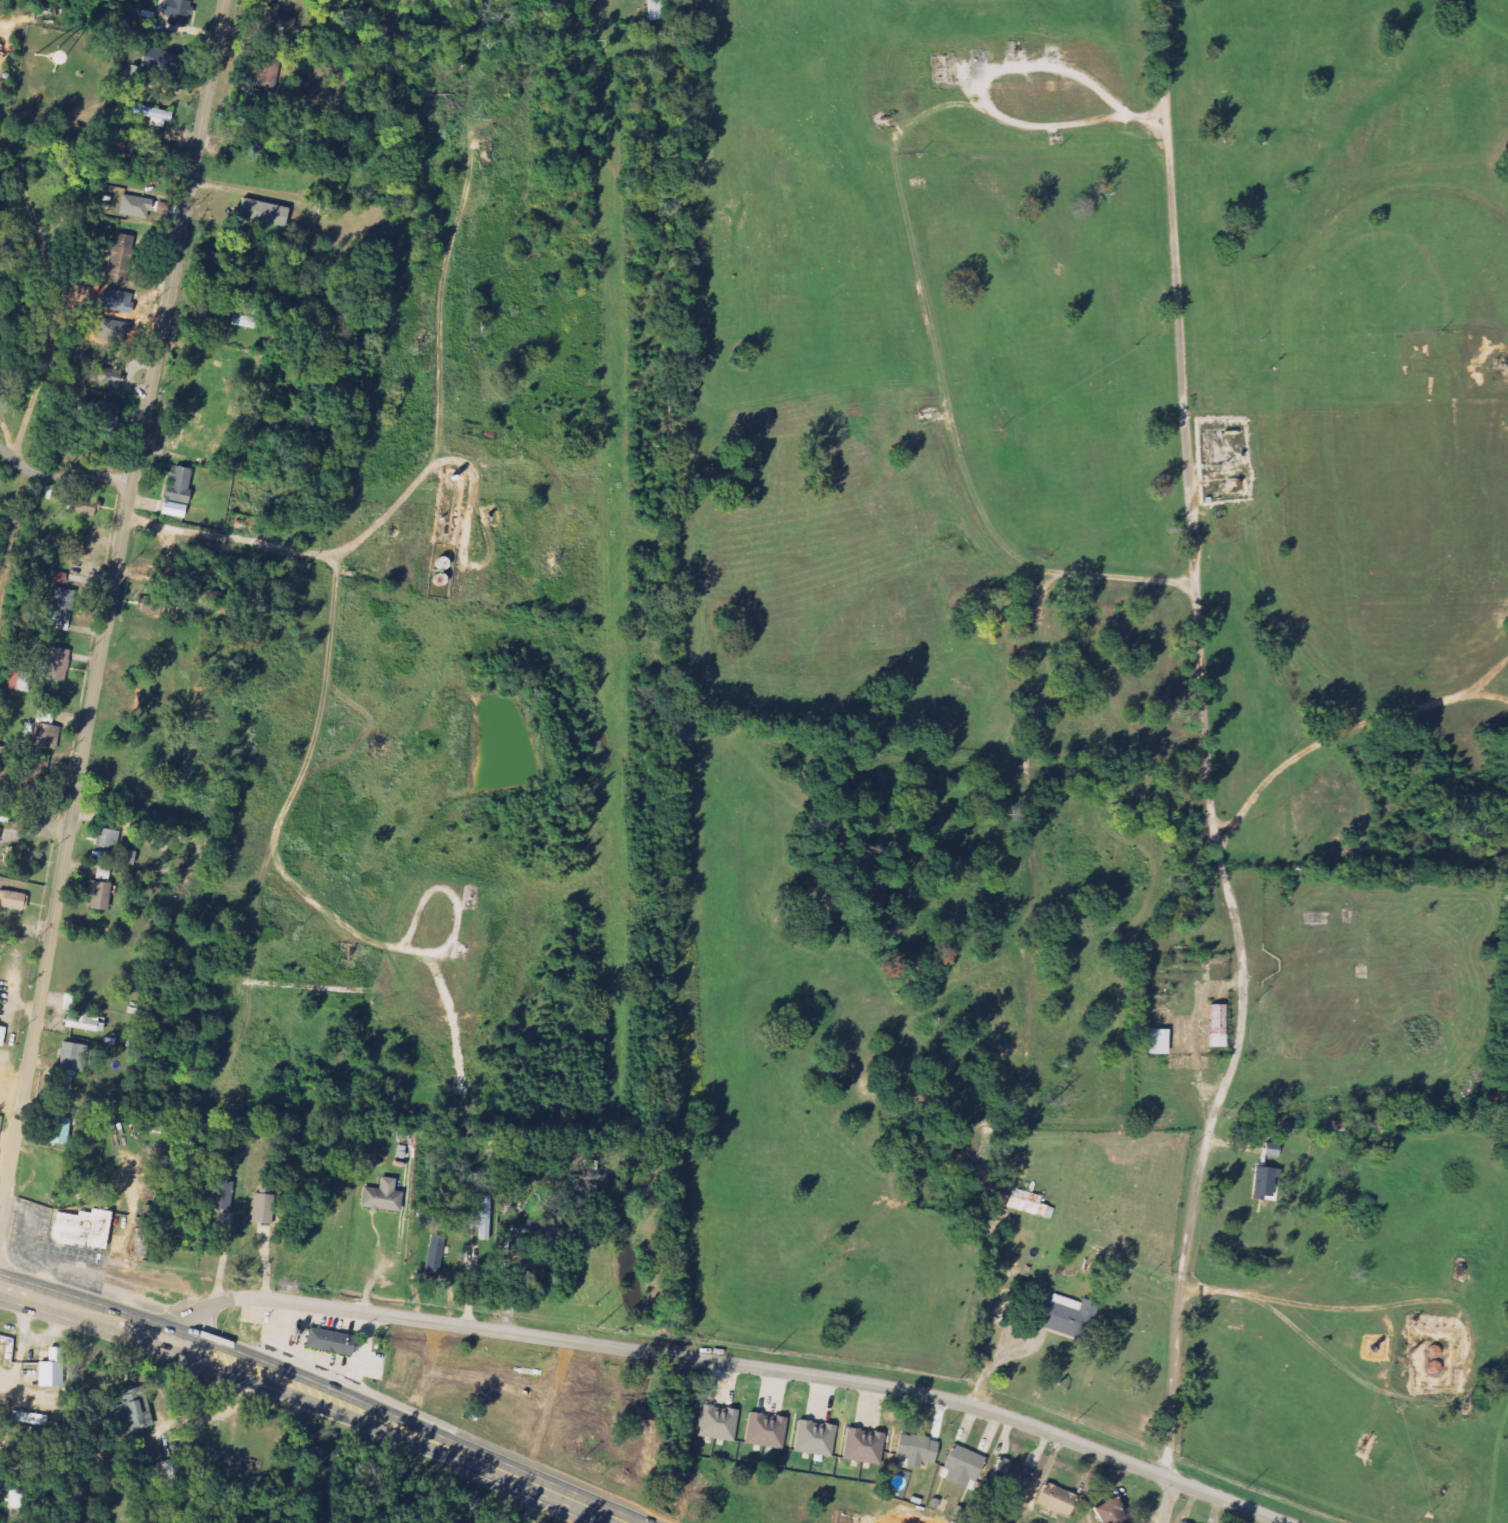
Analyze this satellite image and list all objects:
building: (653, 10)
building: (272, 17)
road: (981, 96)
building: (147, 111)
building: (134, 206)
building: (261, 213)
building: (116, 255)
building: (246, 322)
building: (219, 325)
building: (106, 376)
road: (1482, 376)
building: (176, 492)
building: (80, 506)
building: (59, 577)
road: (1127, 580)
building: (59, 605)
road: (114, 608)
building: (147, 609)
building: (56, 665)
road: (1487, 677)
road: (1345, 733)
building: (41, 736)
road: (1208, 766)
building: (29, 791)
road: (1028, 803)
building: (107, 838)
building: (17, 861)
building: (103, 874)
building: (98, 895)
building: (13, 901)
road: (1200, 1006)
building: (85, 1022)
building: (1216, 1026)
building: (1, 1033)
building: (1155, 1042)
building: (72, 1057)
building: (58, 1130)
road: (6, 1160)
building: (1263, 1183)
building: (221, 1193)
building: (381, 1197)
building: (1015, 1198)
building: (486, 1208)
building: (257, 1209)
building: (1044, 1212)
building: (79, 1228)
building: (434, 1253)
power tower: (82, 1254)
power tower: (407, 1299)
road: (89, 1313)
building: (1059, 1315)
power tower: (590, 1326)
building: (328, 1343)
power tower: (765, 1353)
road: (731, 1364)
building: (1433, 1368)
building: (49, 1370)
power tower: (954, 1377)
building: (129, 1412)
building: (27, 1419)
building: (716, 1423)
road: (403, 1429)
building: (765, 1431)
building: (813, 1438)
building: (862, 1446)
building: (915, 1448)
building: (961, 1466)
building: (171, 1471)
building: (1008, 1474)
power tower: (1251, 1492)
building: (15, 1499)
building: (1054, 1500)
road: (532, 1505)
building: (1107, 1513)

